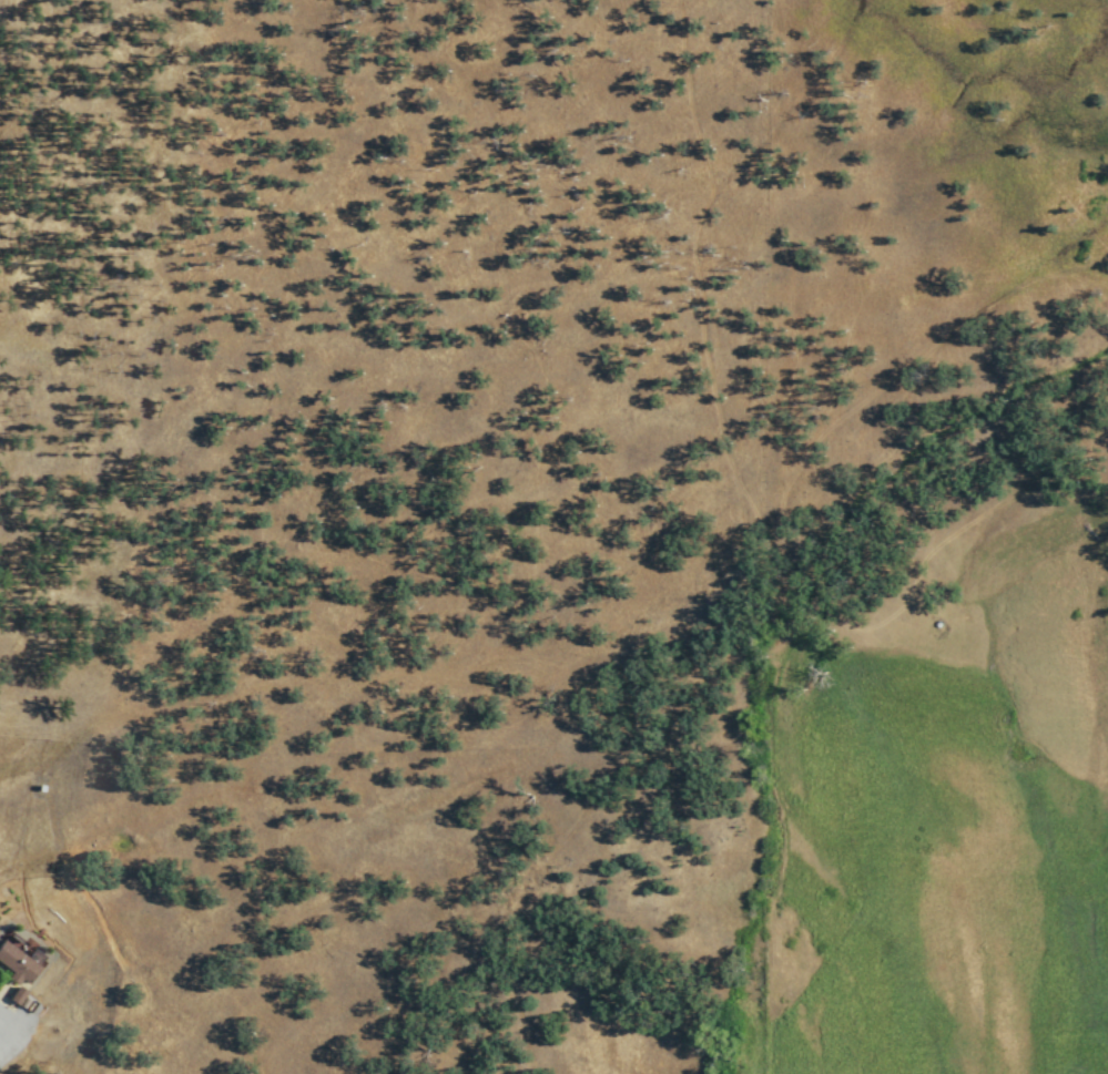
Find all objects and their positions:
building: (17, 964)

